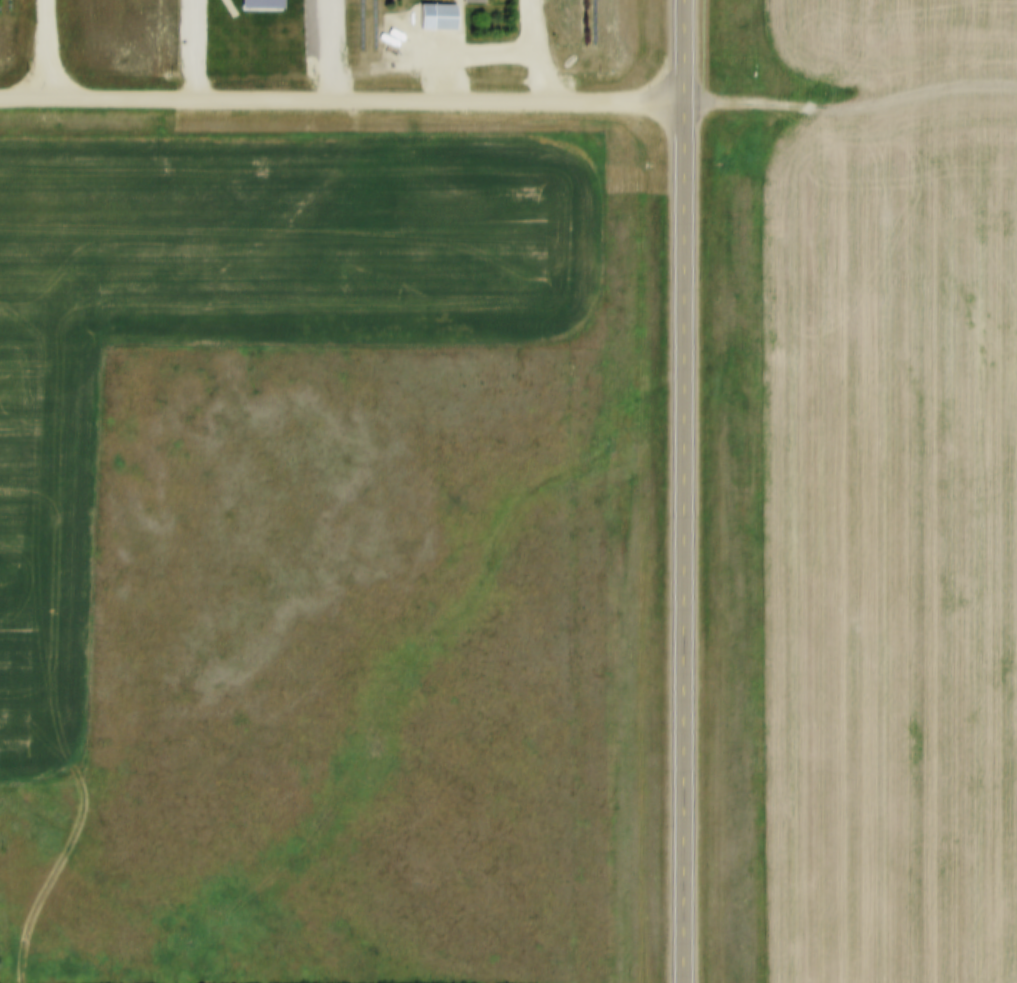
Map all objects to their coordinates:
building: (433, 9)
road: (527, 27)
road: (501, 53)
road: (850, 97)
road: (342, 104)
road: (683, 491)

